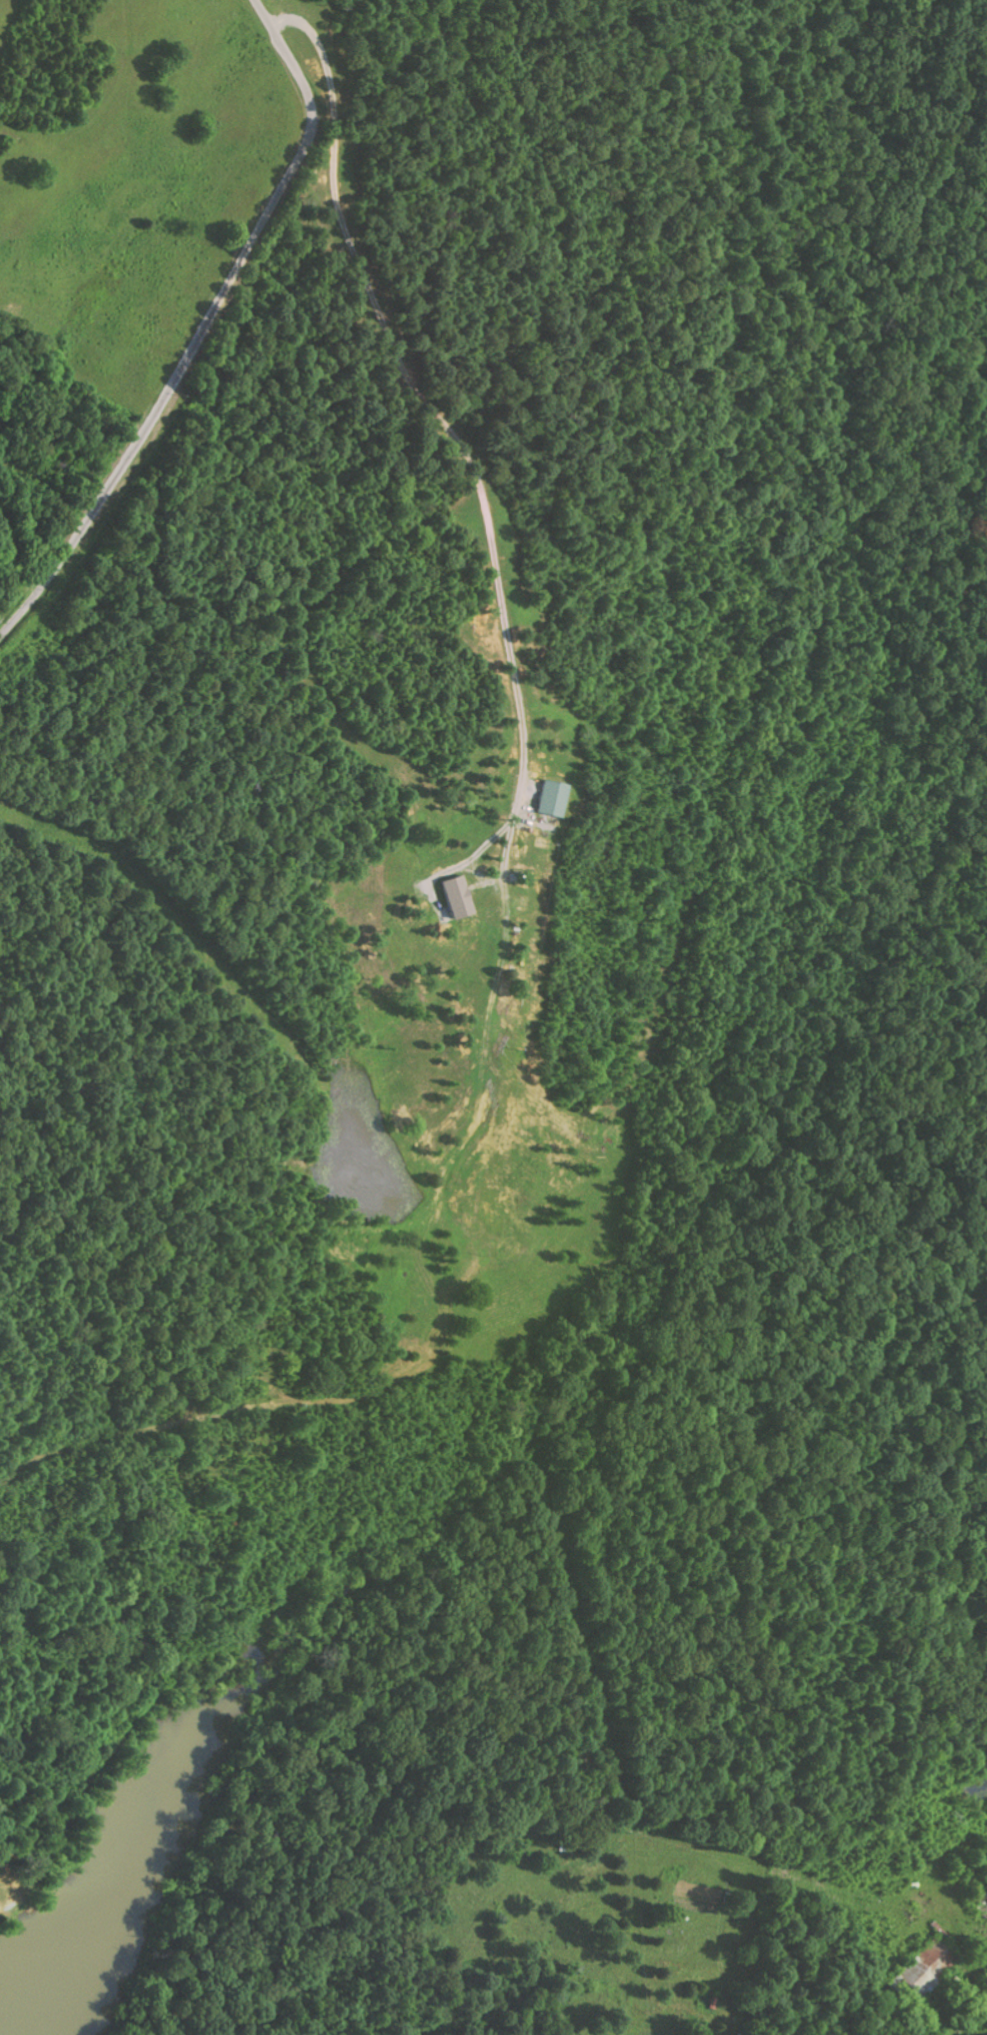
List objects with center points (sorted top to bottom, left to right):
road: (204, 328)
building: (547, 798)
building: (451, 895)

